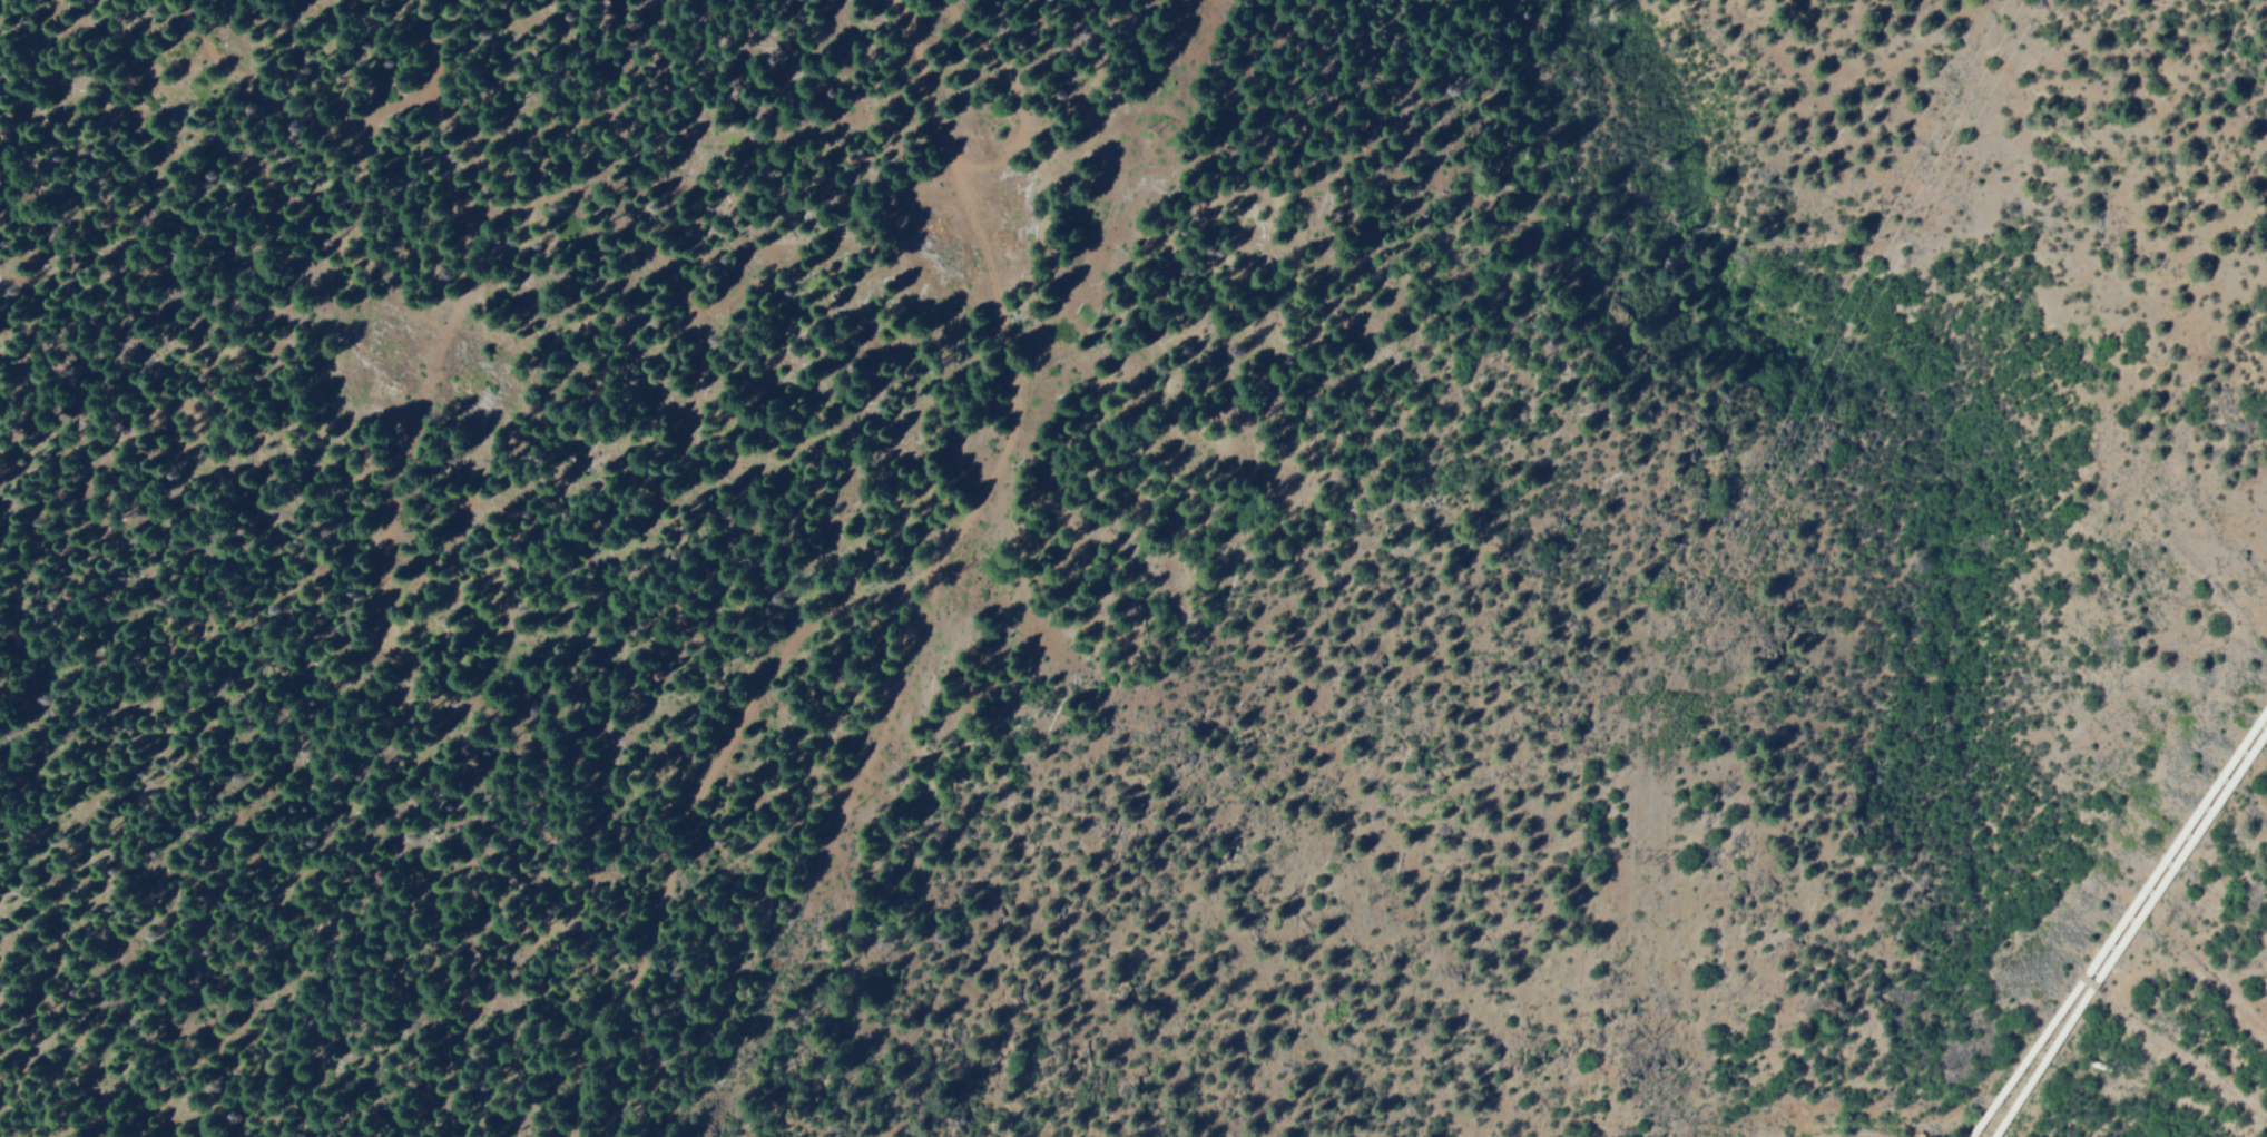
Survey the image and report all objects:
power tower: (1658, 712)
power tower: (1643, 860)
power tower: (1636, 1038)

